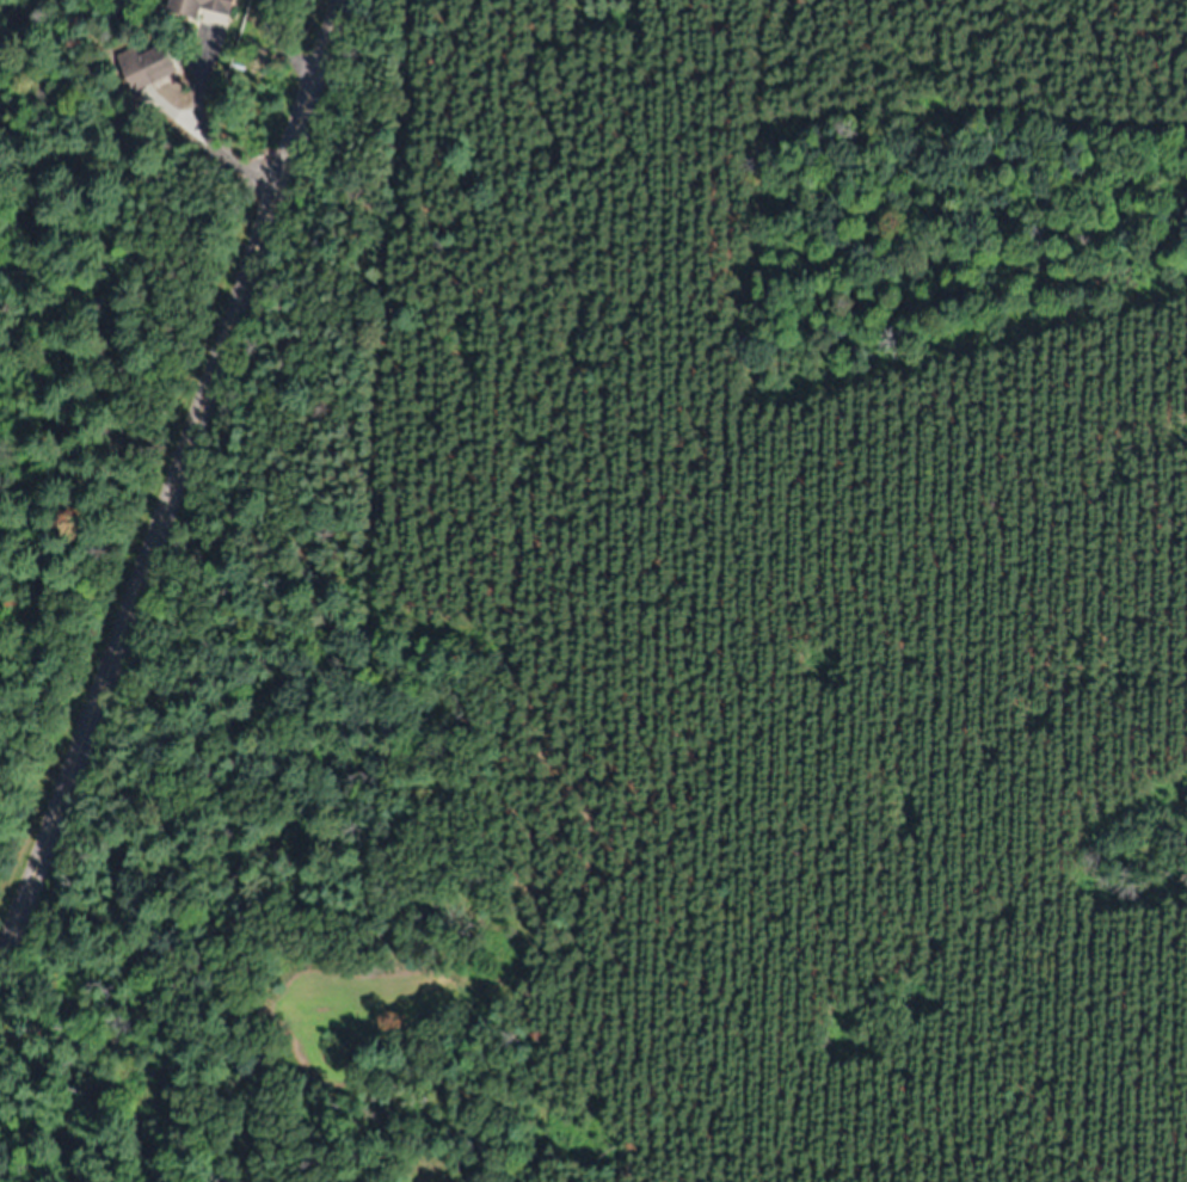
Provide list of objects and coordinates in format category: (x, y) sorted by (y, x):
building: (204, 6)
building: (148, 66)
road: (170, 485)

